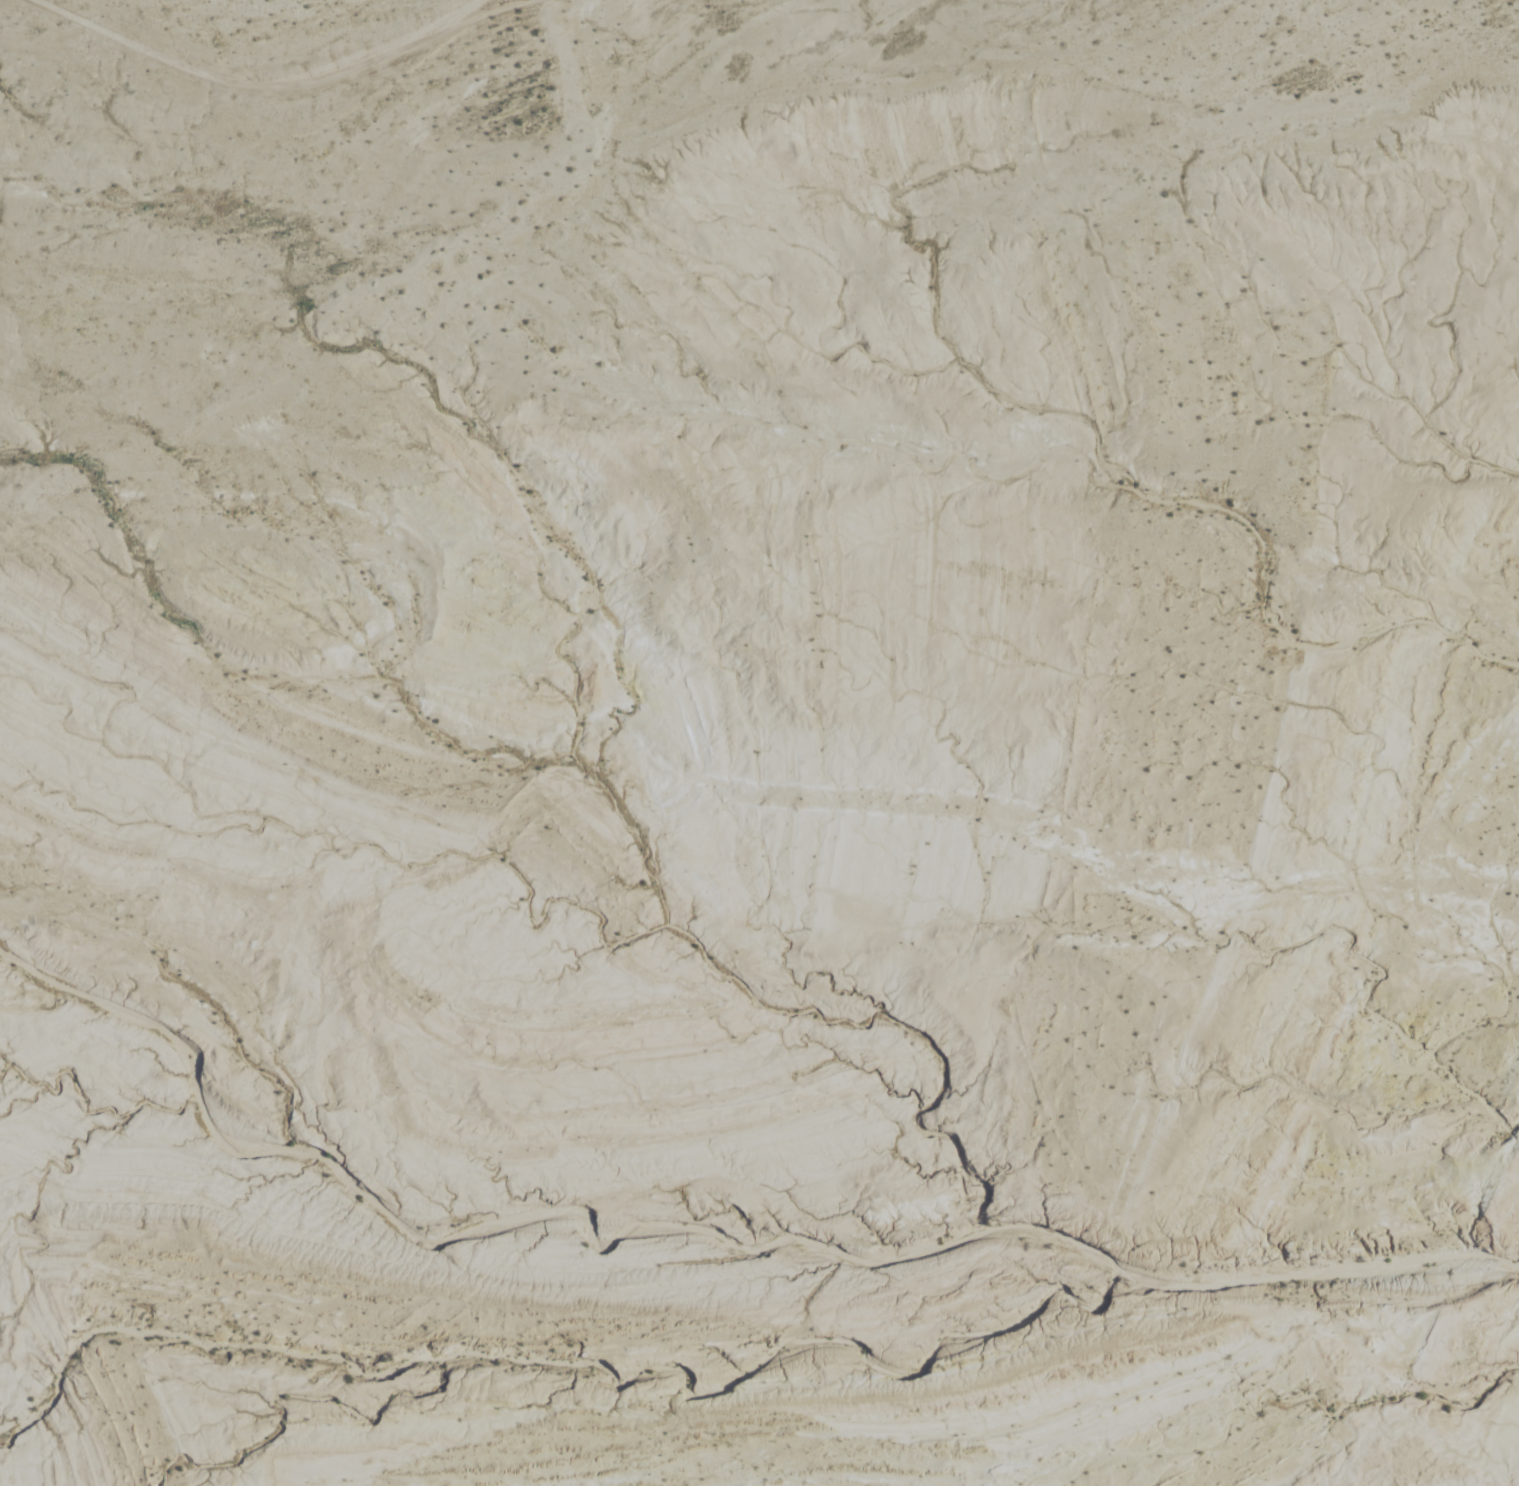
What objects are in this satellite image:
road: (286, 83)

